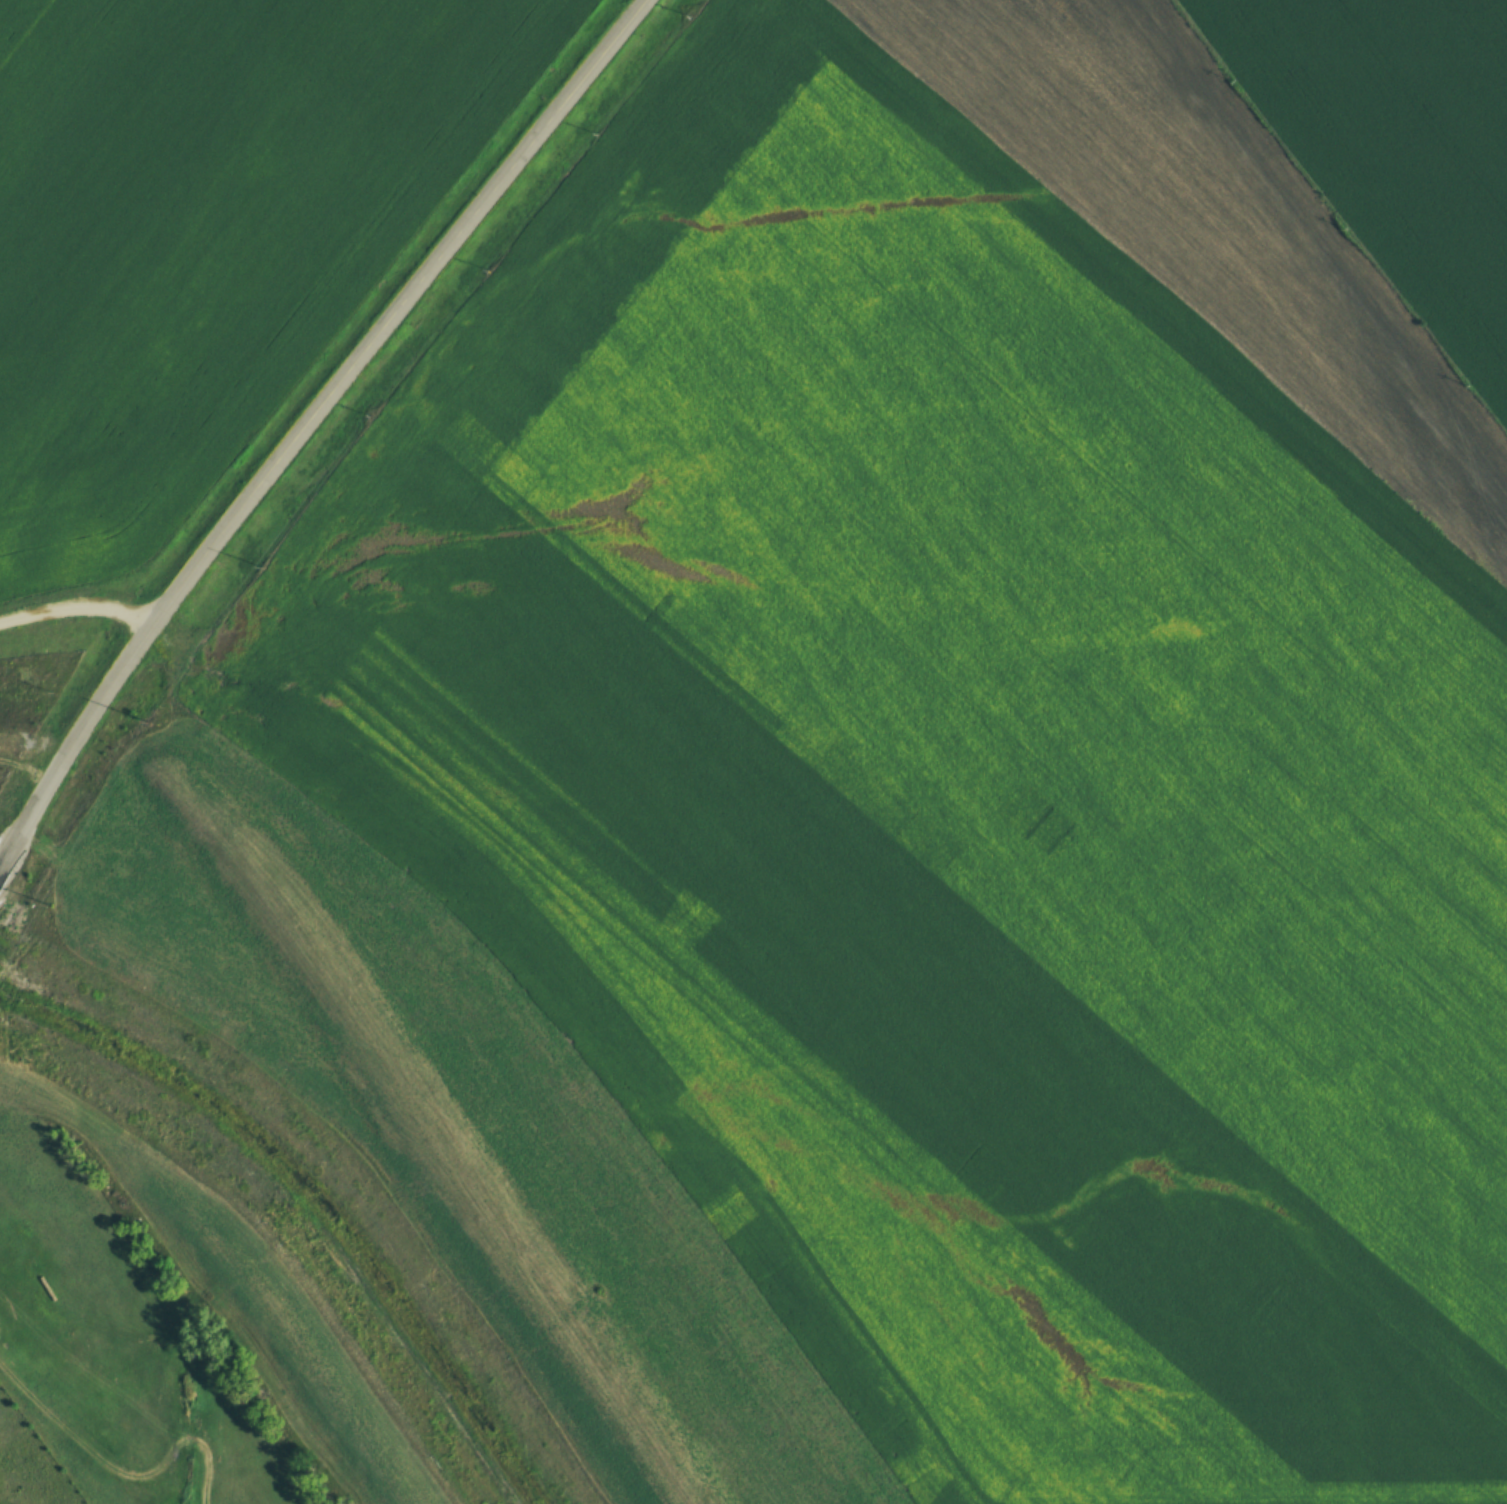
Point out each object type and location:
crop: (202, 117)
road: (307, 430)

